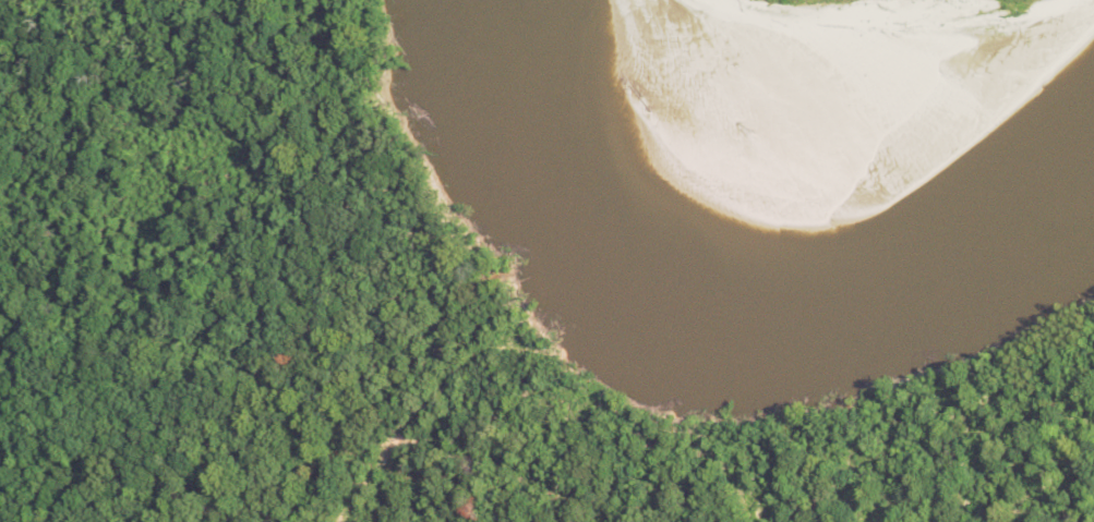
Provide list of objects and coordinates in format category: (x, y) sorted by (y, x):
river: (760, 49)

